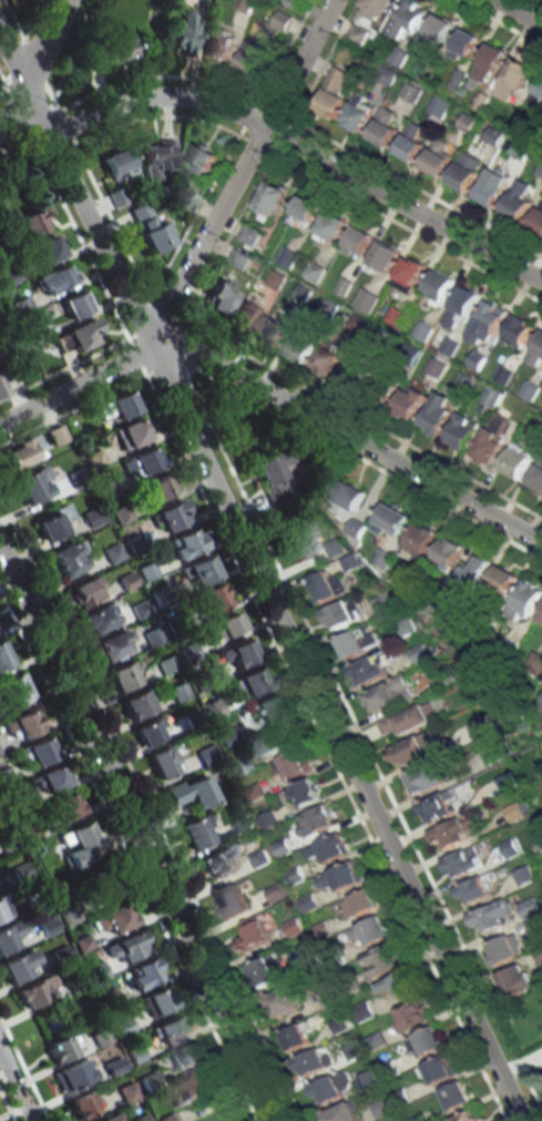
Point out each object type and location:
building: (377, 9)
road: (519, 12)
building: (283, 19)
building: (407, 22)
building: (440, 29)
building: (182, 32)
road: (42, 42)
building: (466, 42)
building: (219, 43)
building: (108, 49)
building: (256, 59)
road: (11, 61)
building: (488, 64)
building: (513, 80)
building: (335, 90)
building: (411, 91)
road: (11, 106)
building: (438, 106)
building: (357, 114)
building: (384, 128)
building: (410, 143)
road: (303, 151)
building: (521, 151)
building: (157, 157)
building: (437, 157)
building: (200, 159)
building: (117, 163)
building: (540, 169)
building: (466, 171)
building: (493, 186)
building: (272, 197)
building: (519, 201)
building: (304, 211)
building: (538, 220)
building: (27, 225)
building: (330, 226)
building: (151, 228)
building: (248, 235)
building: (357, 241)
road: (202, 247)
building: (48, 249)
building: (385, 255)
building: (287, 256)
building: (239, 258)
building: (315, 272)
building: (409, 273)
building: (8, 277)
building: (276, 278)
building: (54, 279)
building: (438, 286)
building: (221, 296)
building: (366, 299)
building: (74, 304)
building: (21, 306)
building: (461, 307)
building: (248, 312)
building: (483, 320)
building: (514, 329)
building: (274, 330)
building: (83, 334)
building: (300, 347)
building: (535, 350)
building: (327, 359)
road: (221, 368)
building: (370, 378)
building: (2, 386)
building: (491, 397)
building: (410, 400)
building: (116, 407)
building: (438, 414)
building: (463, 430)
building: (131, 432)
building: (494, 436)
building: (22, 451)
building: (517, 460)
building: (142, 461)
building: (273, 471)
building: (536, 477)
building: (33, 485)
building: (160, 488)
building: (346, 499)
building: (172, 516)
building: (390, 521)
building: (52, 522)
building: (304, 541)
building: (418, 542)
building: (186, 543)
building: (113, 552)
building: (447, 553)
building: (69, 558)
building: (201, 571)
building: (473, 573)
building: (501, 583)
building: (328, 585)
building: (86, 591)
building: (214, 598)
building: (525, 601)
building: (342, 612)
building: (540, 616)
building: (101, 618)
building: (223, 626)
building: (357, 641)
building: (113, 644)
building: (239, 653)
building: (3, 655)
building: (534, 663)
building: (372, 666)
building: (123, 675)
building: (252, 681)
building: (17, 689)
building: (387, 693)
building: (136, 704)
building: (267, 709)
building: (409, 719)
building: (23, 724)
building: (481, 726)
building: (151, 731)
road: (338, 731)
building: (274, 740)
building: (409, 750)
building: (38, 751)
building: (163, 762)
building: (292, 765)
building: (423, 778)
building: (49, 779)
building: (192, 792)
building: (306, 793)
building: (437, 806)
building: (65, 807)
building: (316, 821)
road: (139, 830)
building: (198, 830)
building: (453, 832)
building: (81, 845)
building: (330, 847)
building: (221, 860)
building: (462, 862)
building: (341, 876)
building: (101, 886)
building: (473, 889)
building: (232, 900)
building: (359, 903)
building: (6, 906)
building: (528, 906)
building: (492, 916)
building: (115, 919)
building: (370, 930)
building: (253, 934)
building: (9, 936)
building: (127, 947)
building: (504, 948)
building: (381, 959)
building: (20, 966)
building: (266, 970)
building: (142, 975)
building: (517, 979)
building: (398, 984)
building: (35, 992)
building: (157, 1001)
building: (284, 1001)
building: (410, 1015)
building: (168, 1030)
building: (297, 1036)
building: (425, 1041)
building: (63, 1047)
building: (185, 1056)
building: (314, 1061)
building: (438, 1070)
building: (72, 1076)
building: (193, 1087)
road: (14, 1088)
building: (331, 1088)
building: (456, 1095)
building: (81, 1104)
building: (344, 1112)
building: (467, 1117)
building: (111, 1118)
building: (229, 1120)

